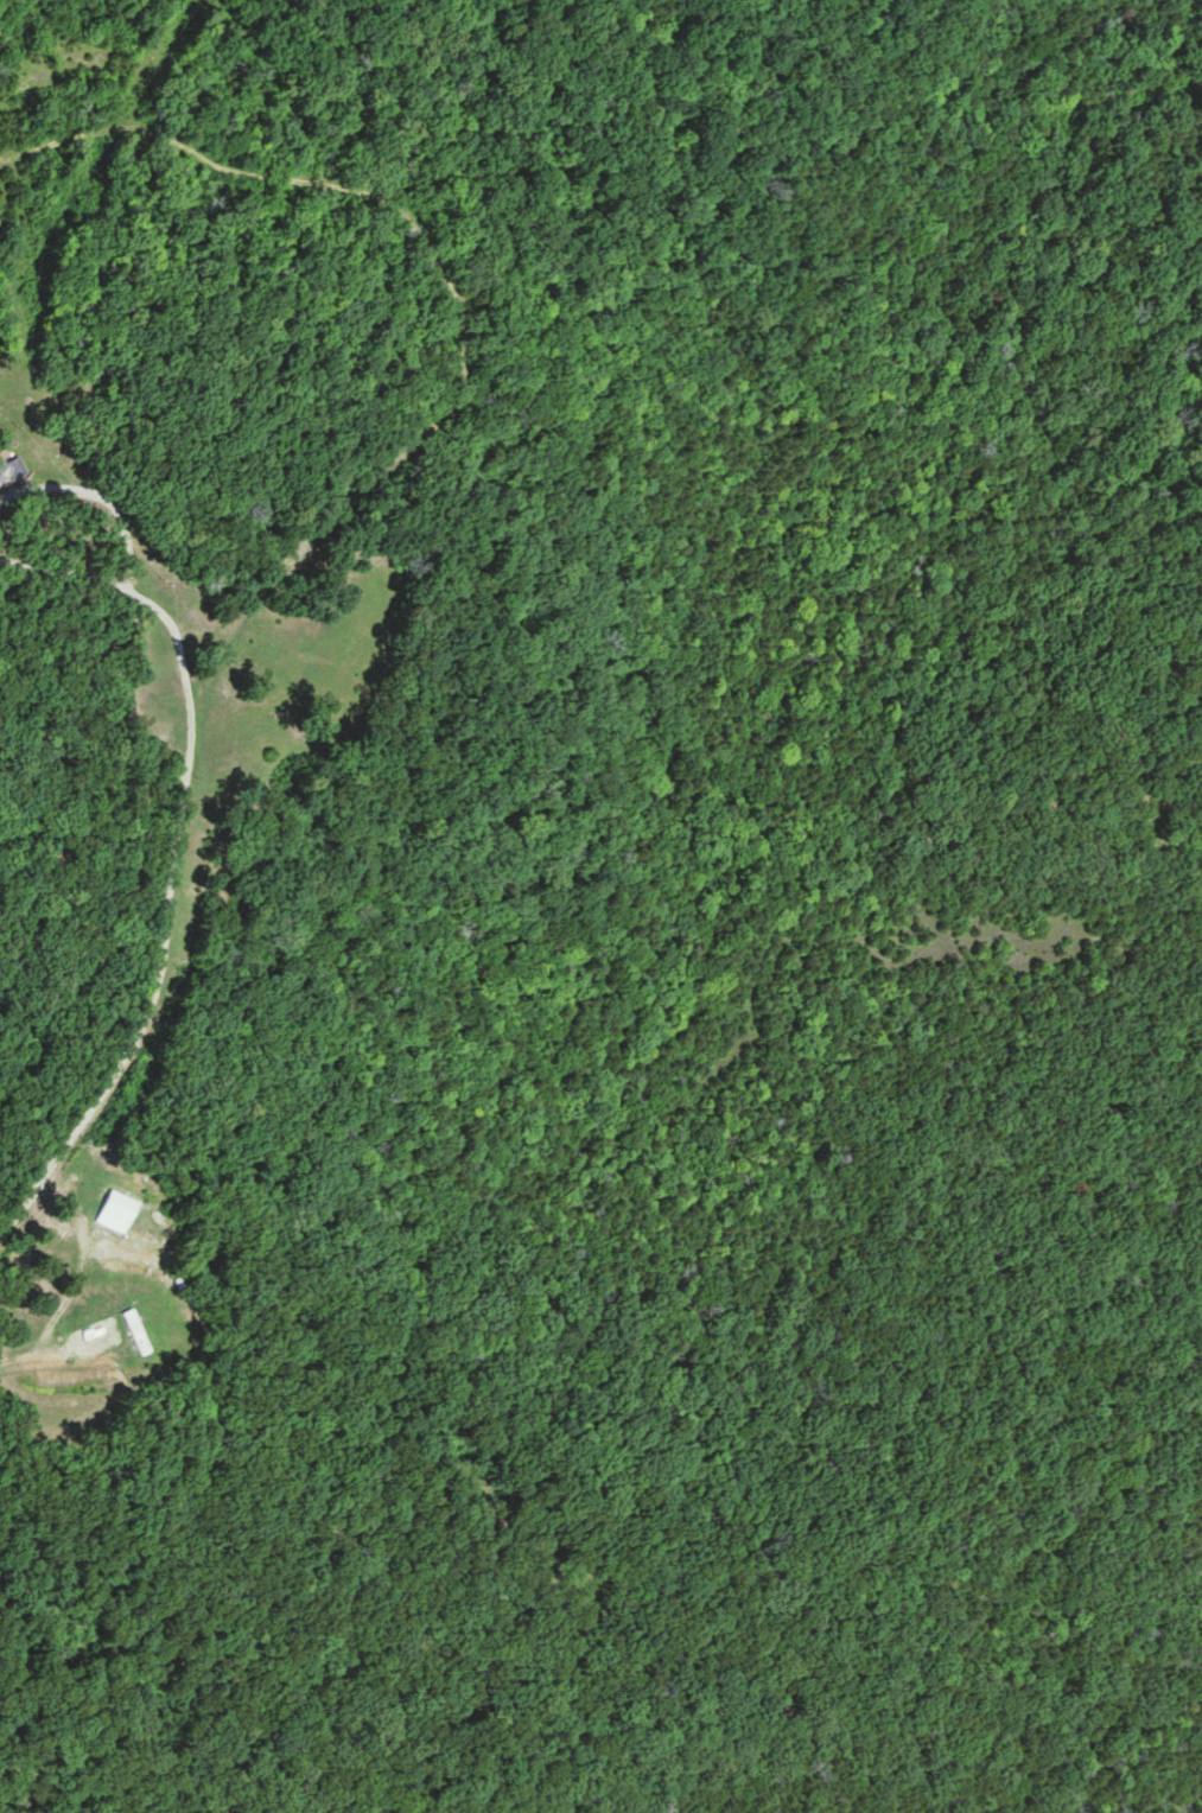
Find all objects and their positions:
building: (9, 469)
road: (174, 877)
building: (117, 1213)
building: (136, 1332)

